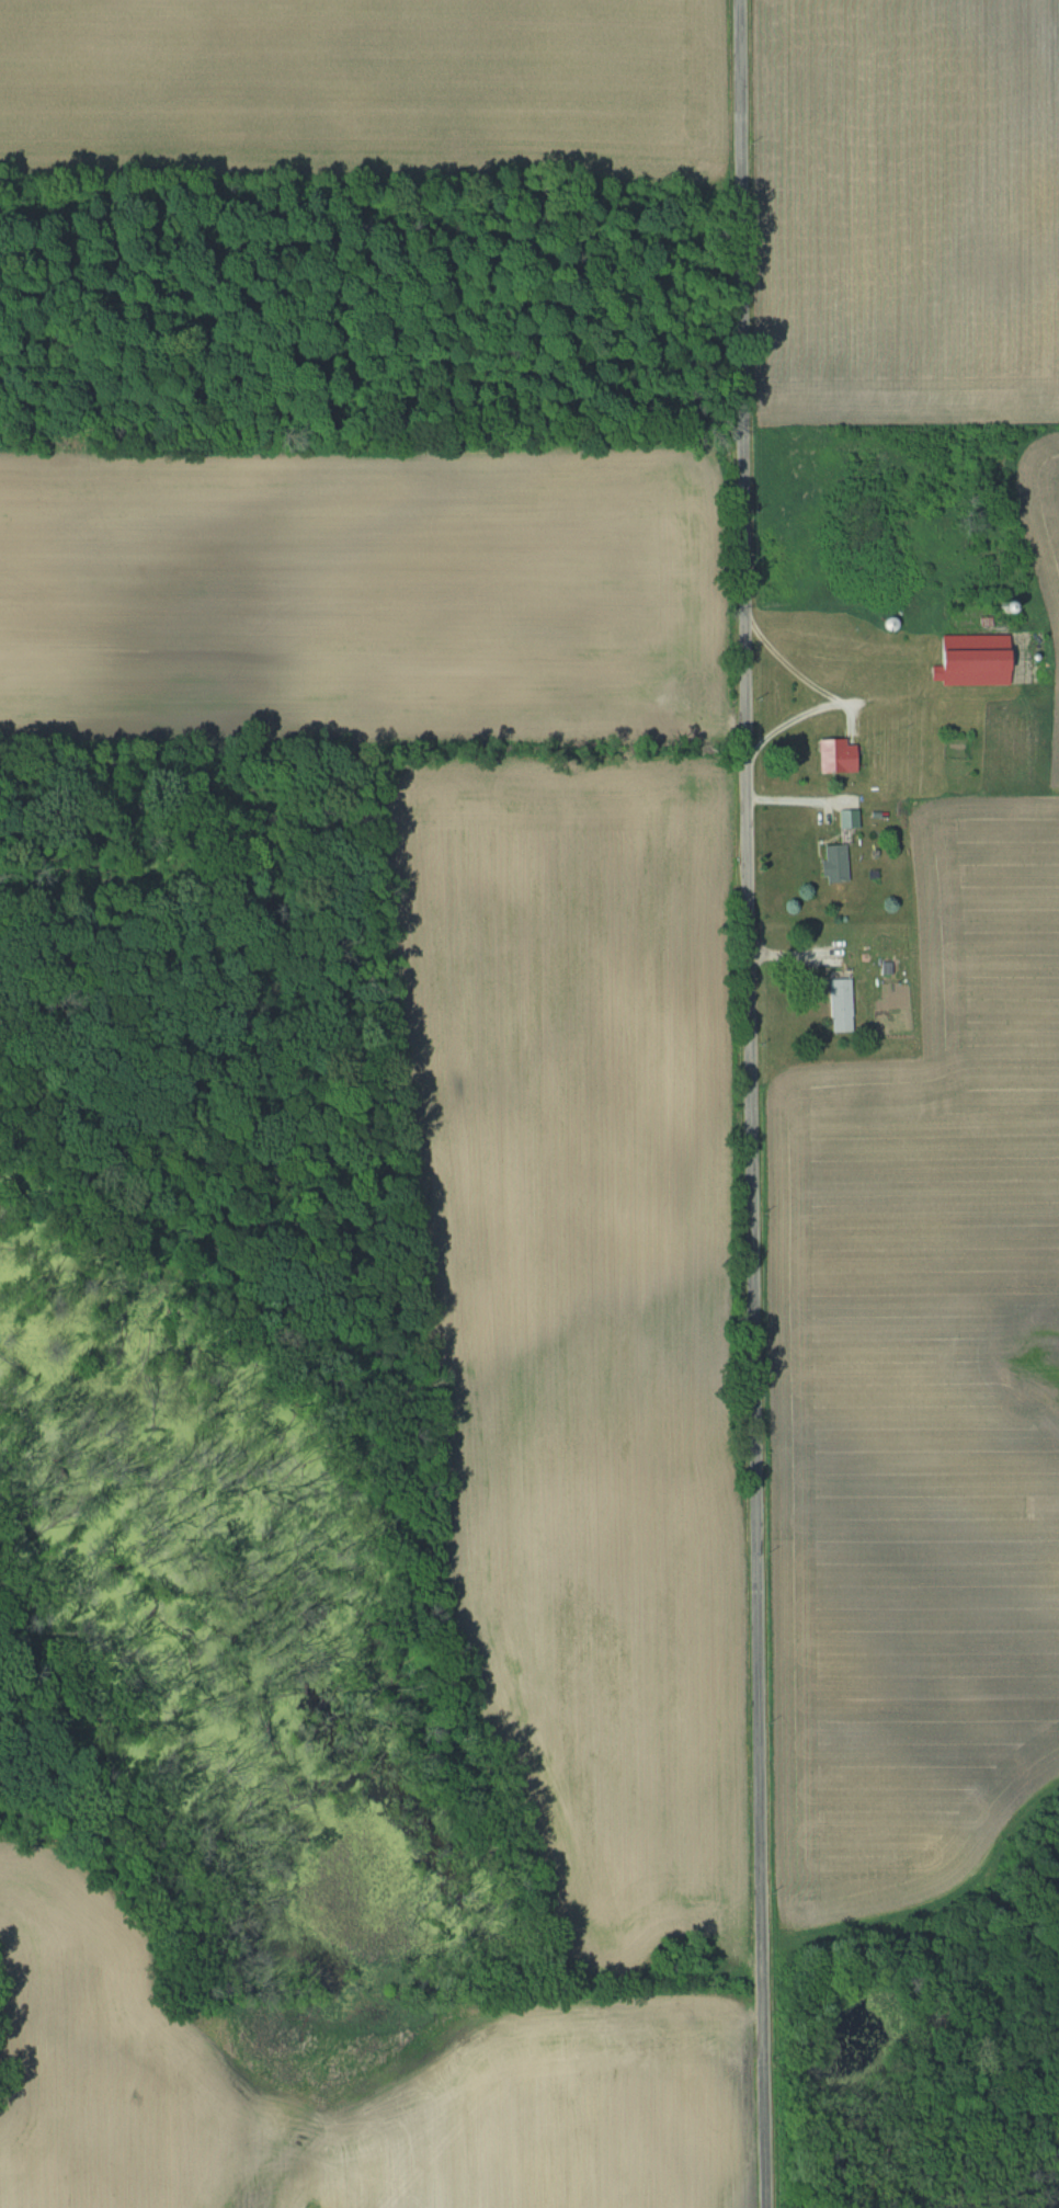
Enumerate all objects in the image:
building: (970, 659)
road: (827, 694)
building: (832, 754)
building: (831, 863)
building: (838, 1004)
road: (752, 1104)

